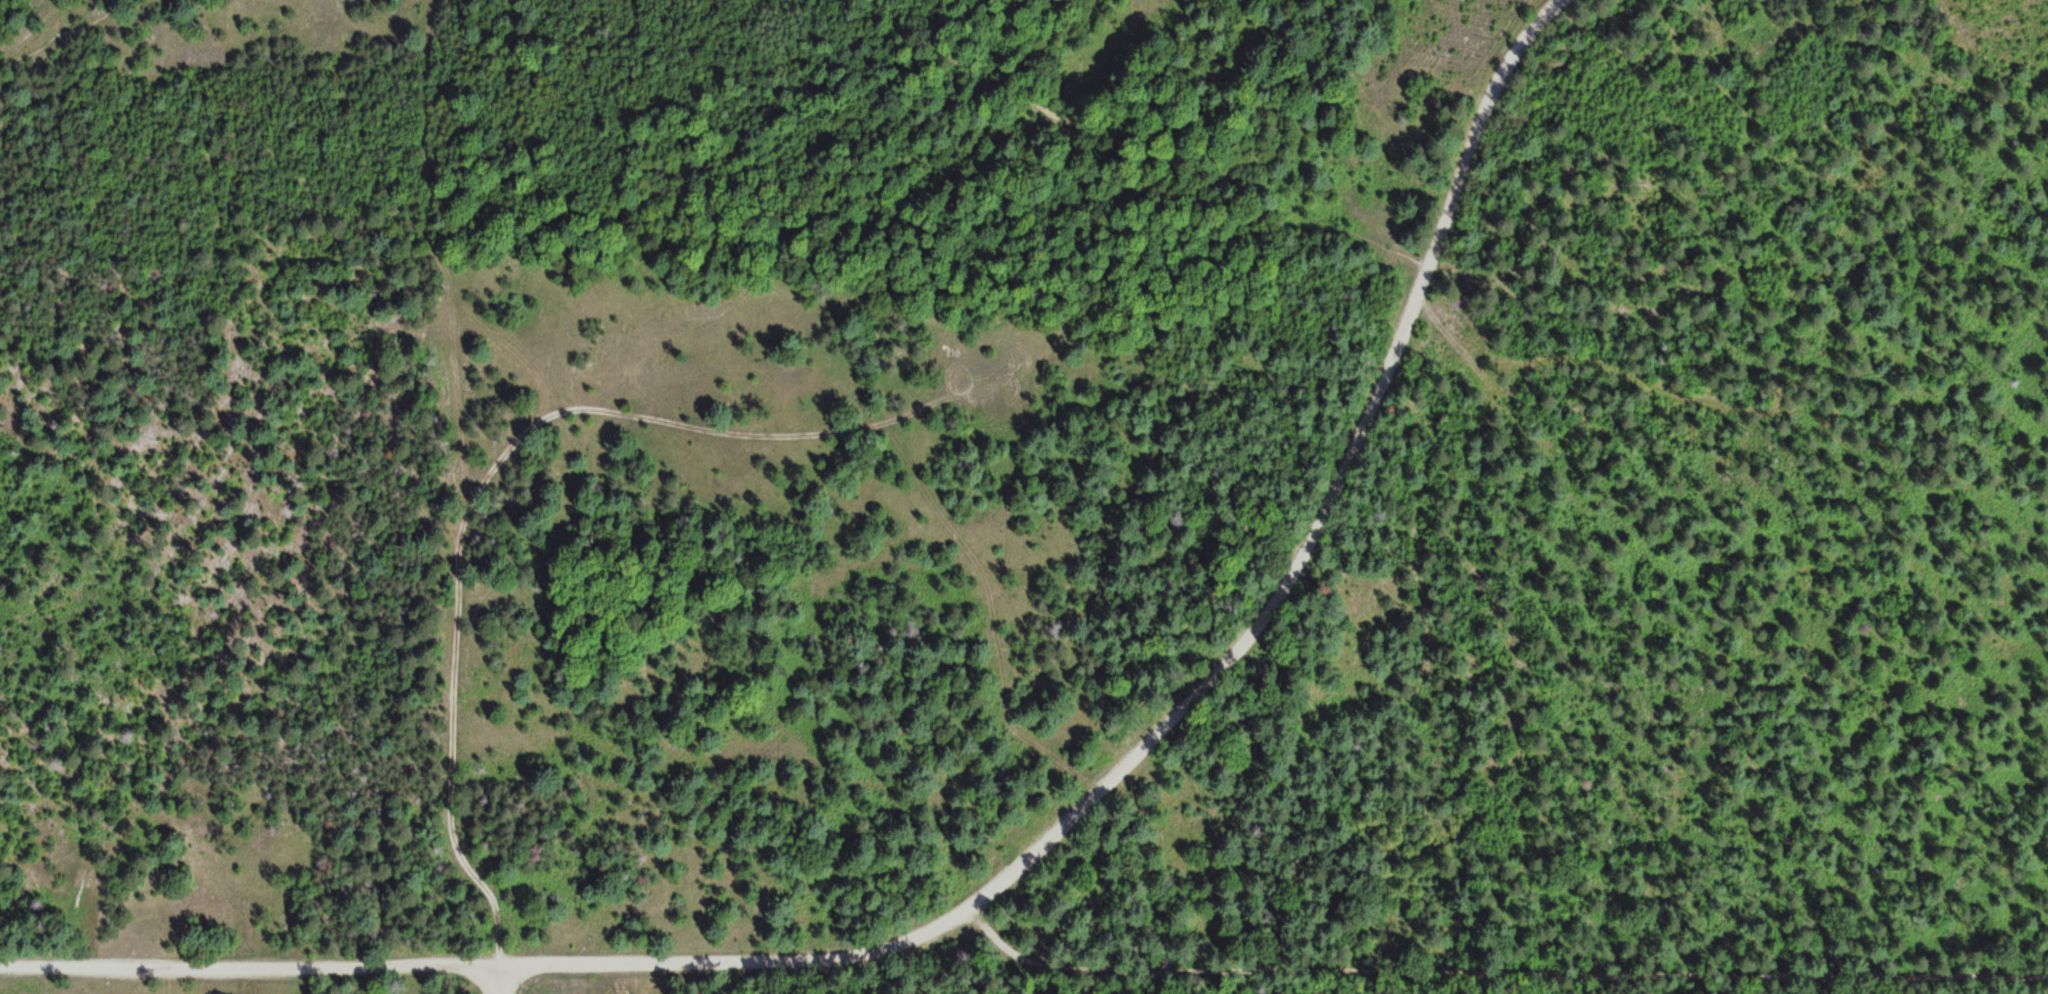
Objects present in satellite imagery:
road: (436, 254)
road: (486, 486)
road: (1197, 691)
road: (251, 961)
road: (1494, 970)
road: (501, 979)

